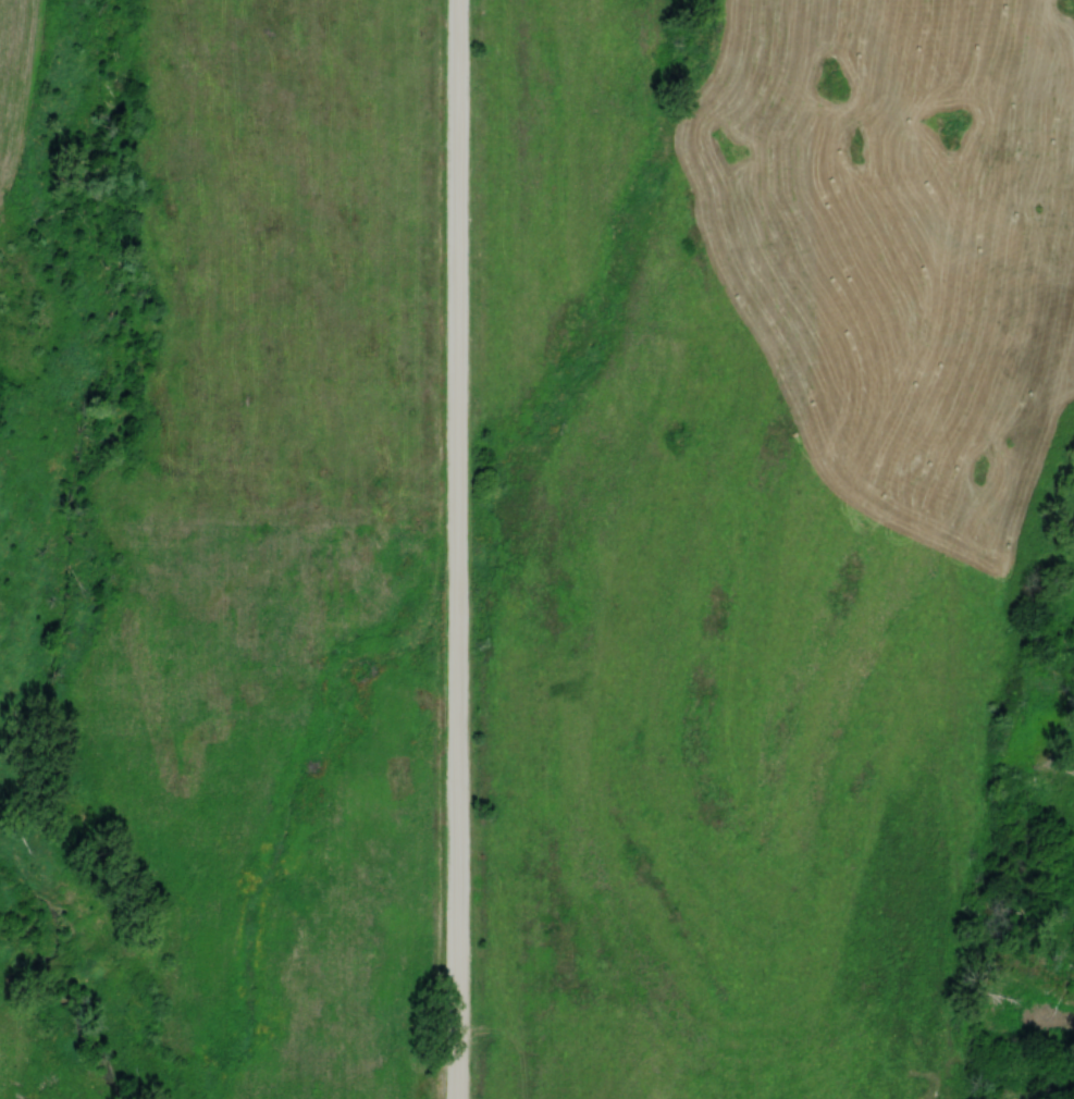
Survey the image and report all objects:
road: (456, 548)
road: (617, 947)

